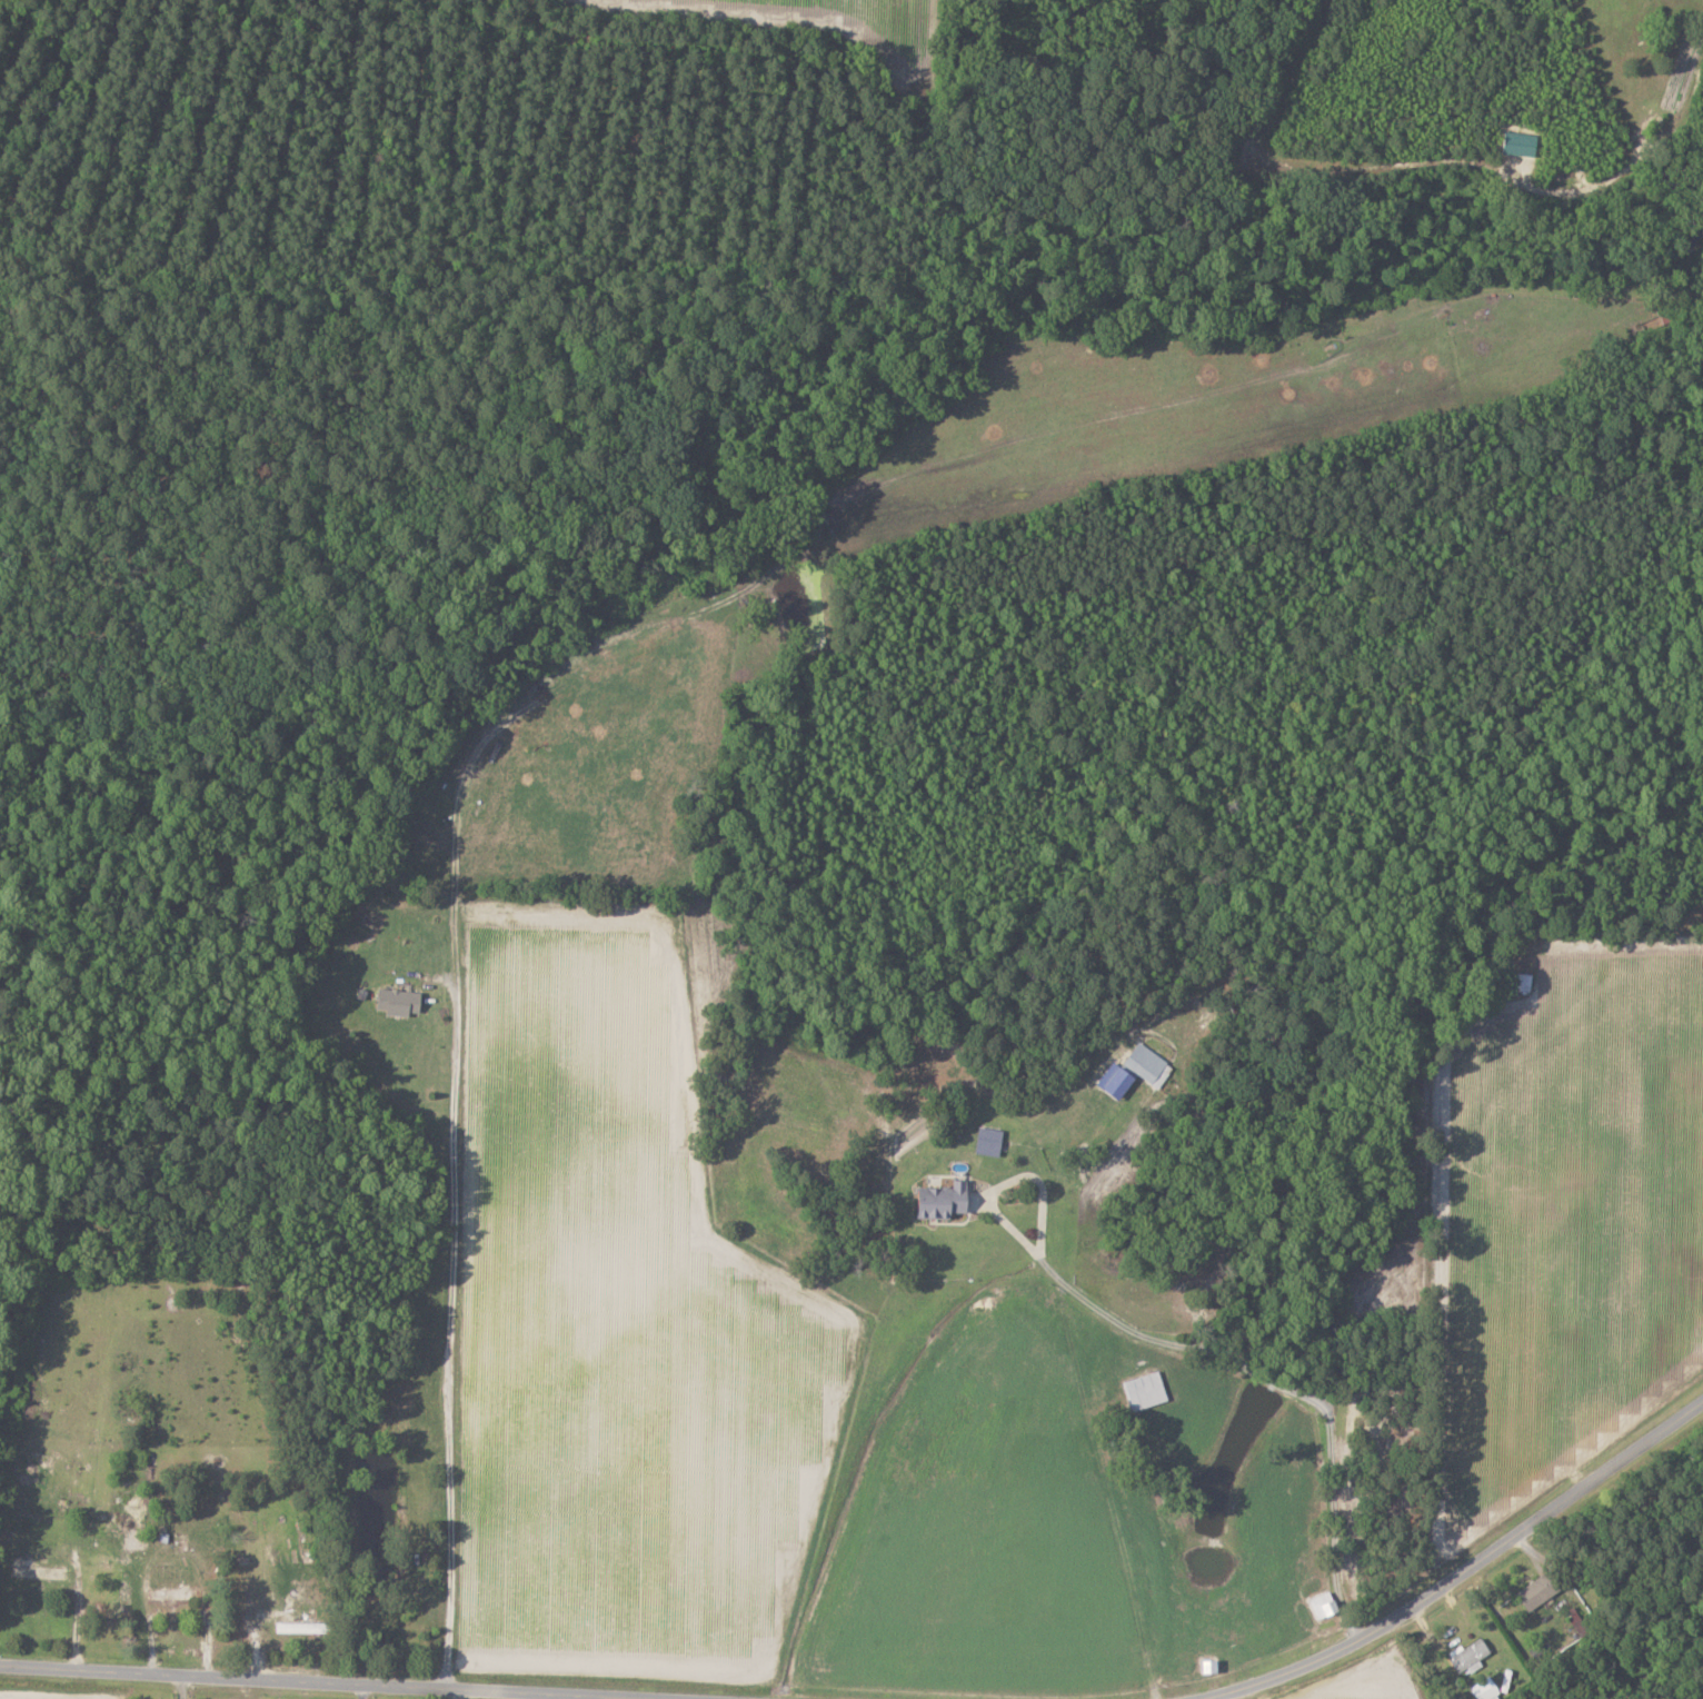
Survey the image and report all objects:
building: (1524, 981)
building: (400, 1000)
building: (1136, 1070)
building: (946, 1199)
road: (450, 1340)
road: (1189, 1343)
building: (41, 1571)
road: (1466, 1571)
building: (1540, 1590)
building: (176, 1593)
building: (1326, 1604)
building: (1471, 1655)
road: (326, 1681)
road: (182, 1686)
building: (1486, 1689)

